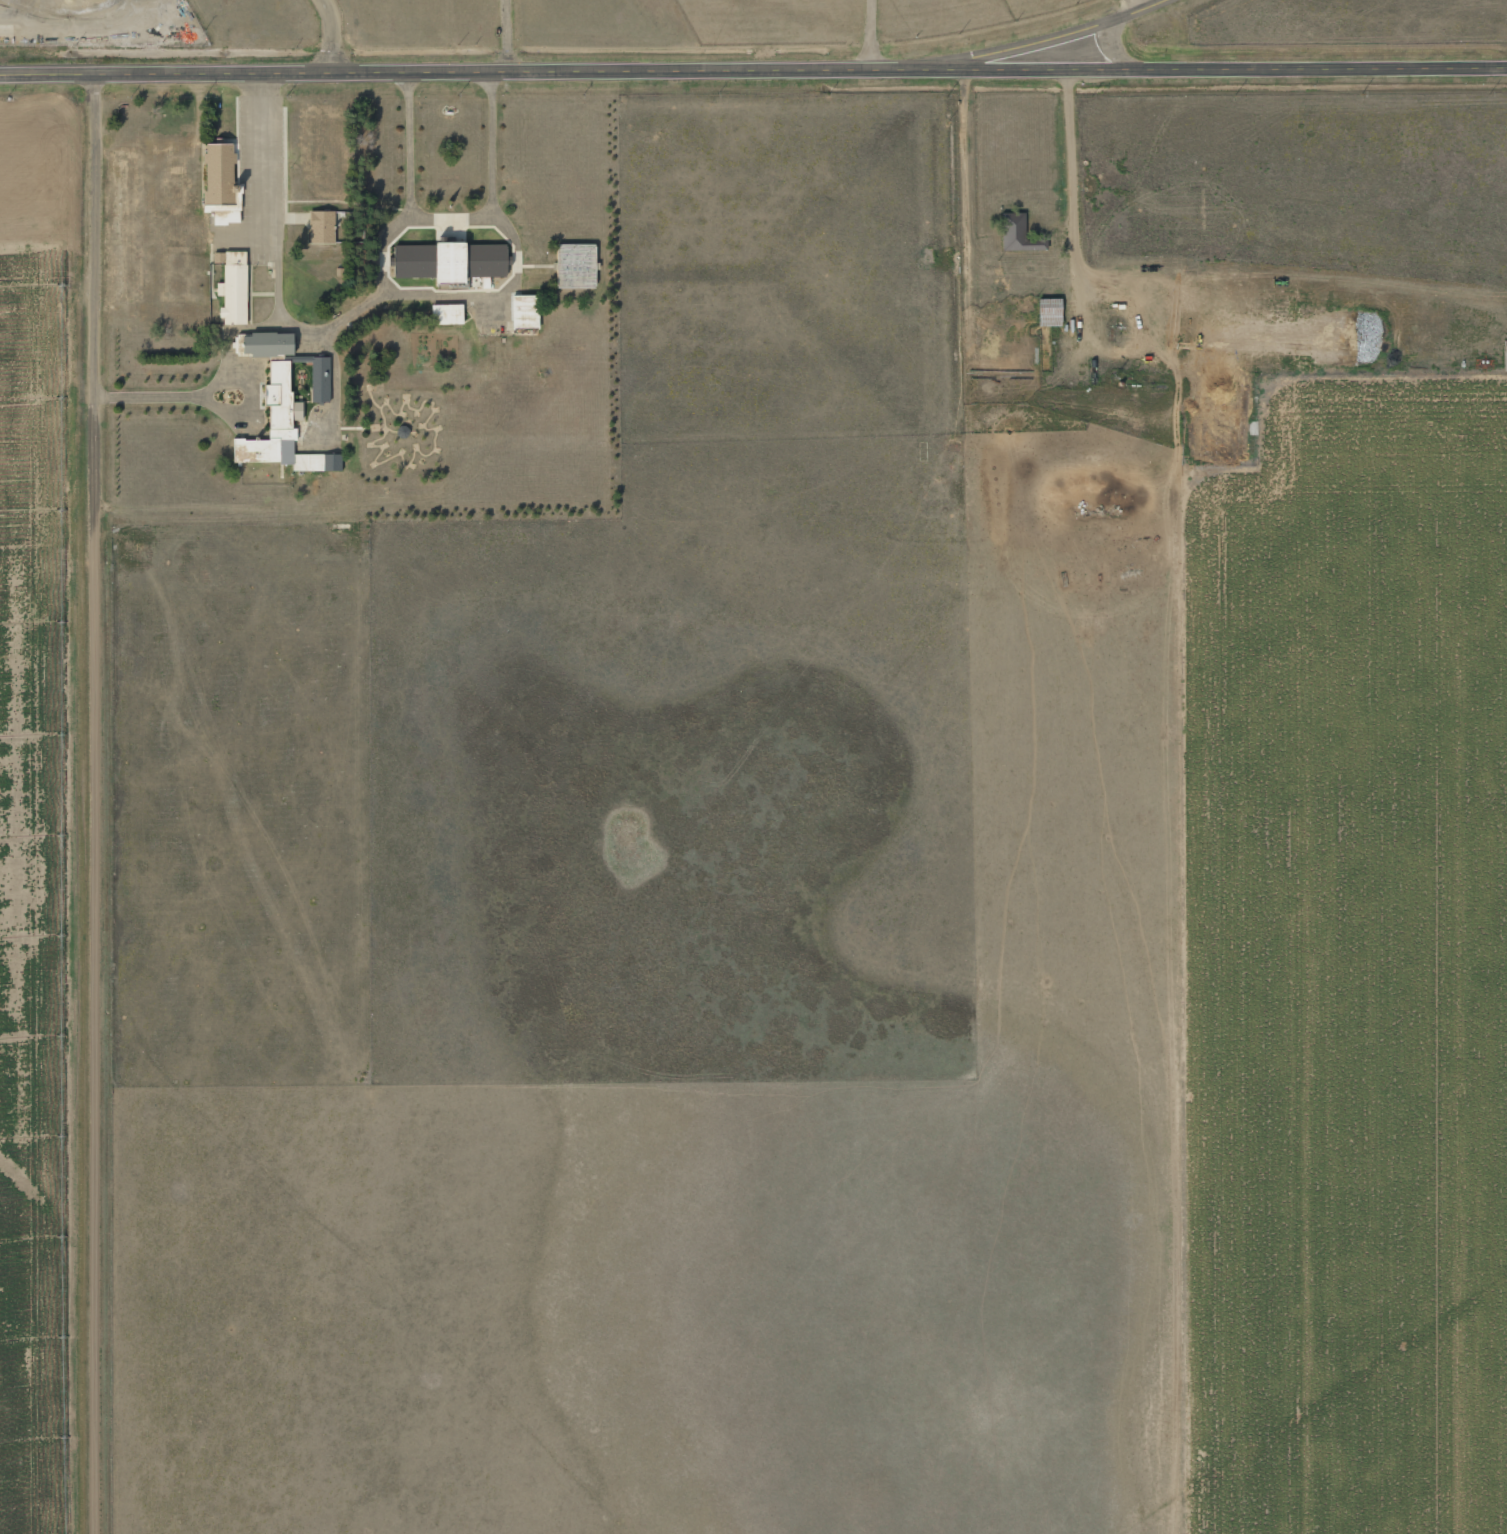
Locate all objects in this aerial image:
road: (326, 36)
road: (1052, 40)
road: (1113, 51)
road: (1222, 70)
road: (468, 73)
road: (258, 160)
building: (221, 181)
building: (321, 226)
building: (1017, 234)
building: (411, 261)
building: (468, 261)
building: (575, 265)
building: (232, 286)
building: (524, 311)
building: (447, 313)
building: (268, 344)
building: (281, 429)
road: (97, 803)

